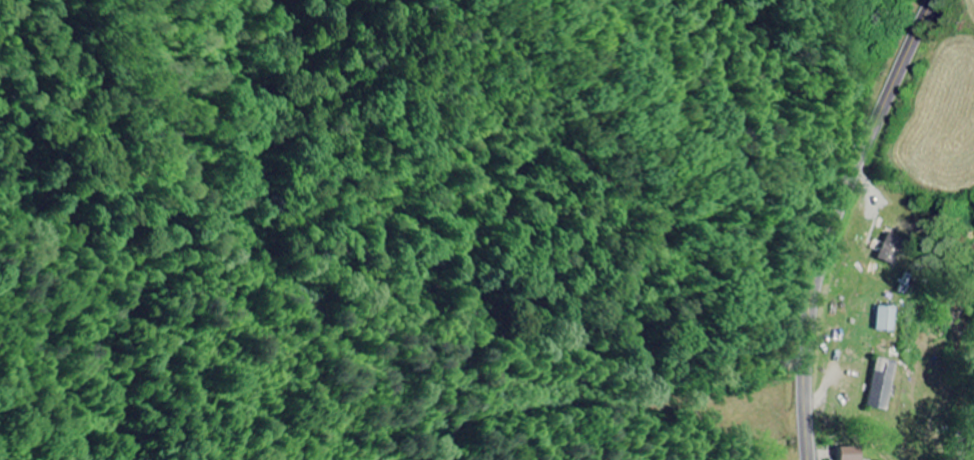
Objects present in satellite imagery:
road: (846, 222)
building: (887, 249)
building: (885, 320)
building: (857, 362)
building: (881, 386)
road: (967, 446)
building: (847, 455)

